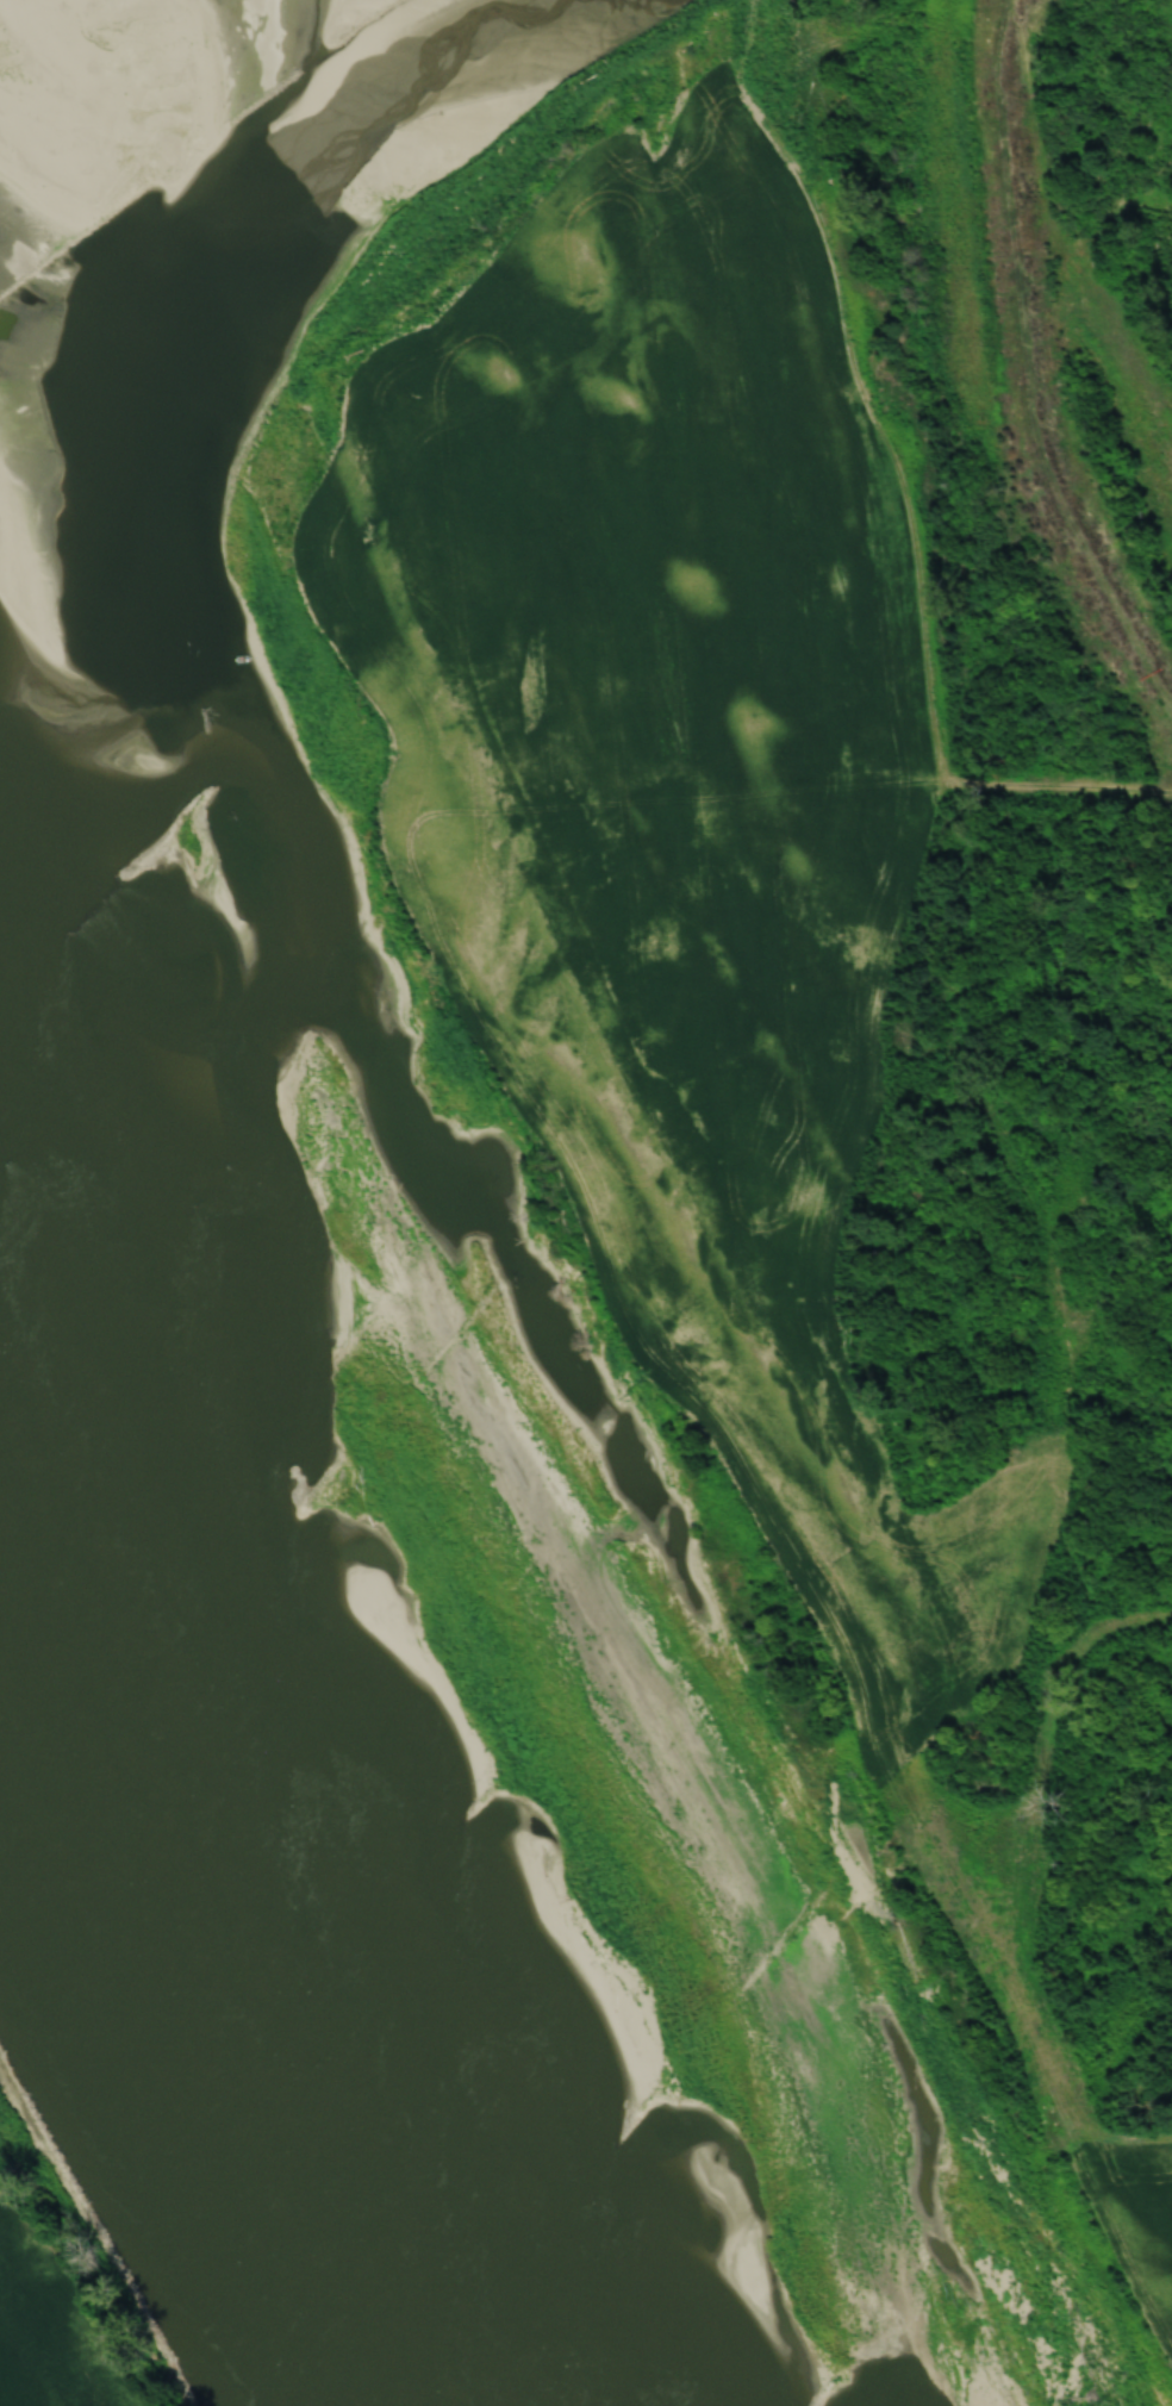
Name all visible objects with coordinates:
river: (243, 1972)

